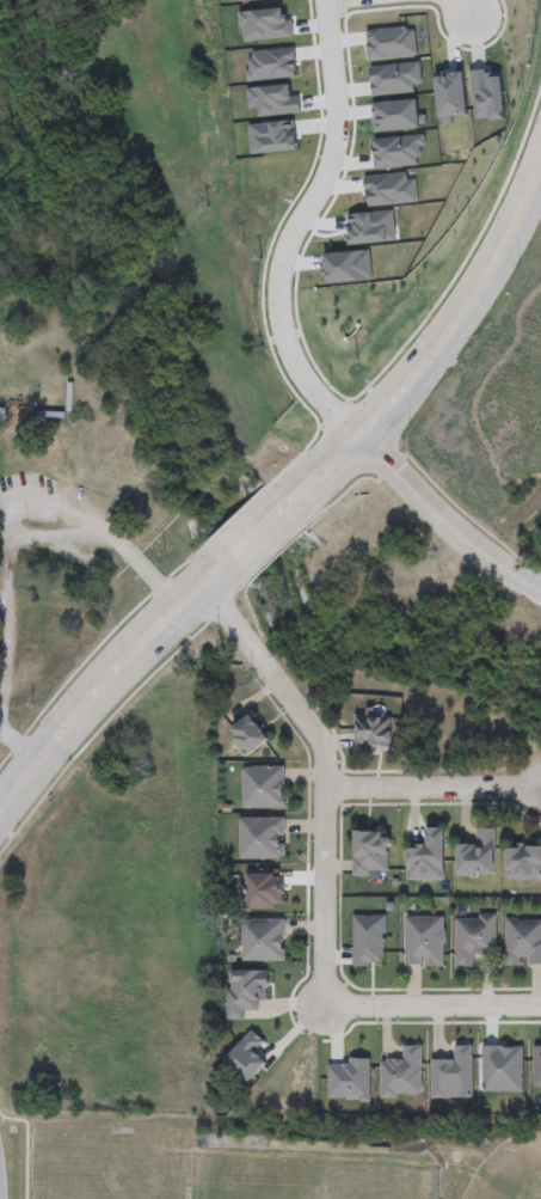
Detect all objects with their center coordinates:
road: (461, 7)
building: (265, 22)
building: (389, 41)
building: (271, 63)
building: (393, 77)
building: (449, 93)
building: (486, 93)
building: (272, 97)
building: (395, 114)
building: (272, 133)
building: (395, 149)
building: (370, 226)
road: (293, 230)
road: (322, 479)
road: (453, 514)
road: (6, 532)
building: (373, 732)
building: (247, 736)
road: (27, 776)
road: (322, 776)
road: (431, 787)
building: (263, 789)
building: (262, 839)
building: (369, 855)
building: (477, 855)
building: (426, 858)
building: (523, 864)
building: (473, 938)
building: (263, 941)
building: (423, 942)
building: (523, 944)
road: (432, 1007)
building: (401, 1076)

